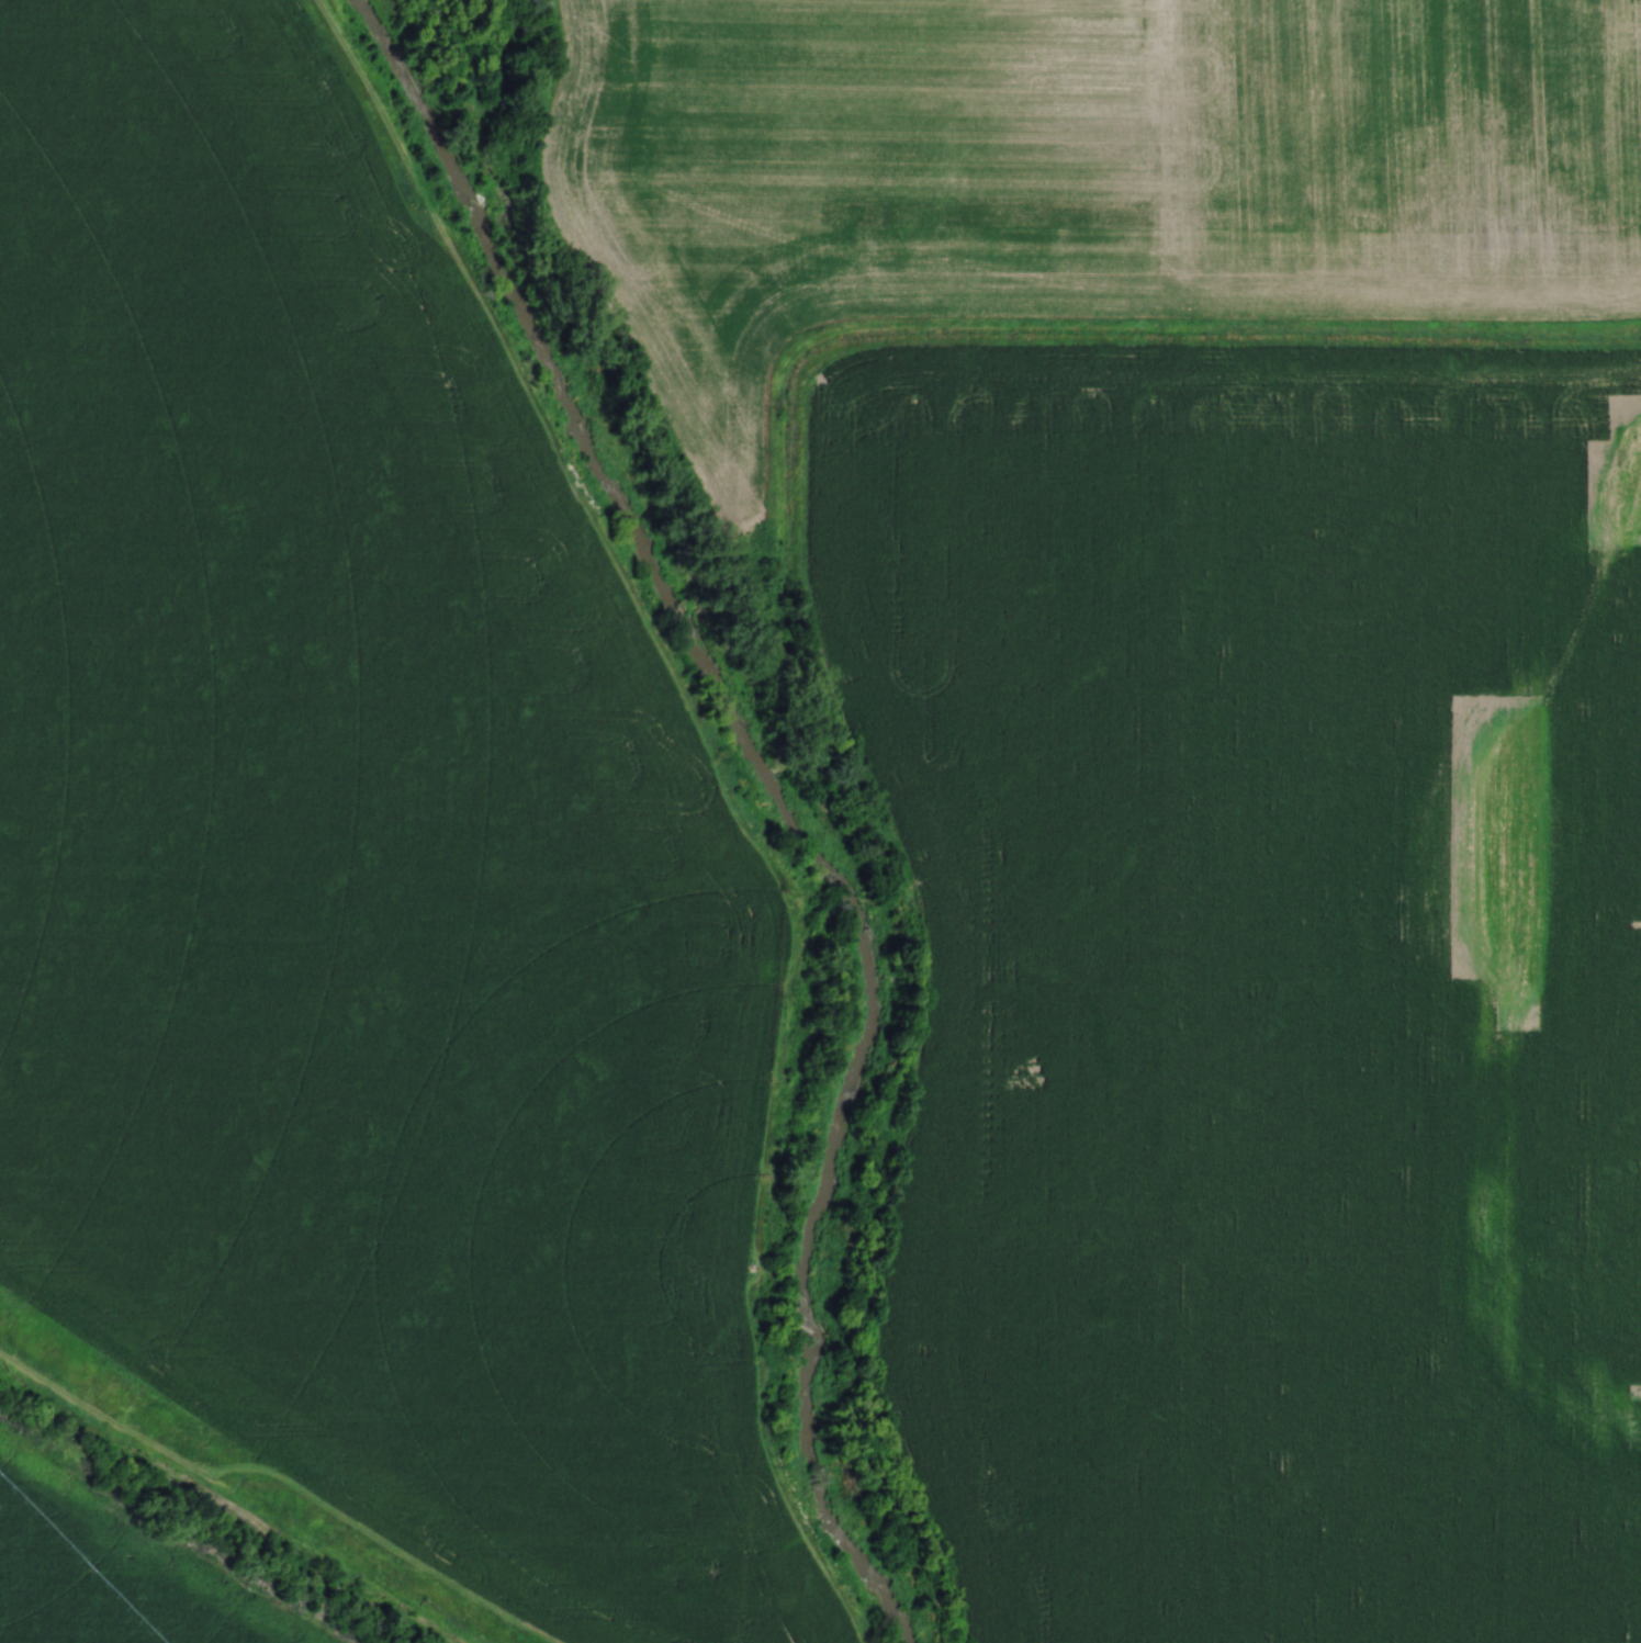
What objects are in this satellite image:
river: (790, 797)

